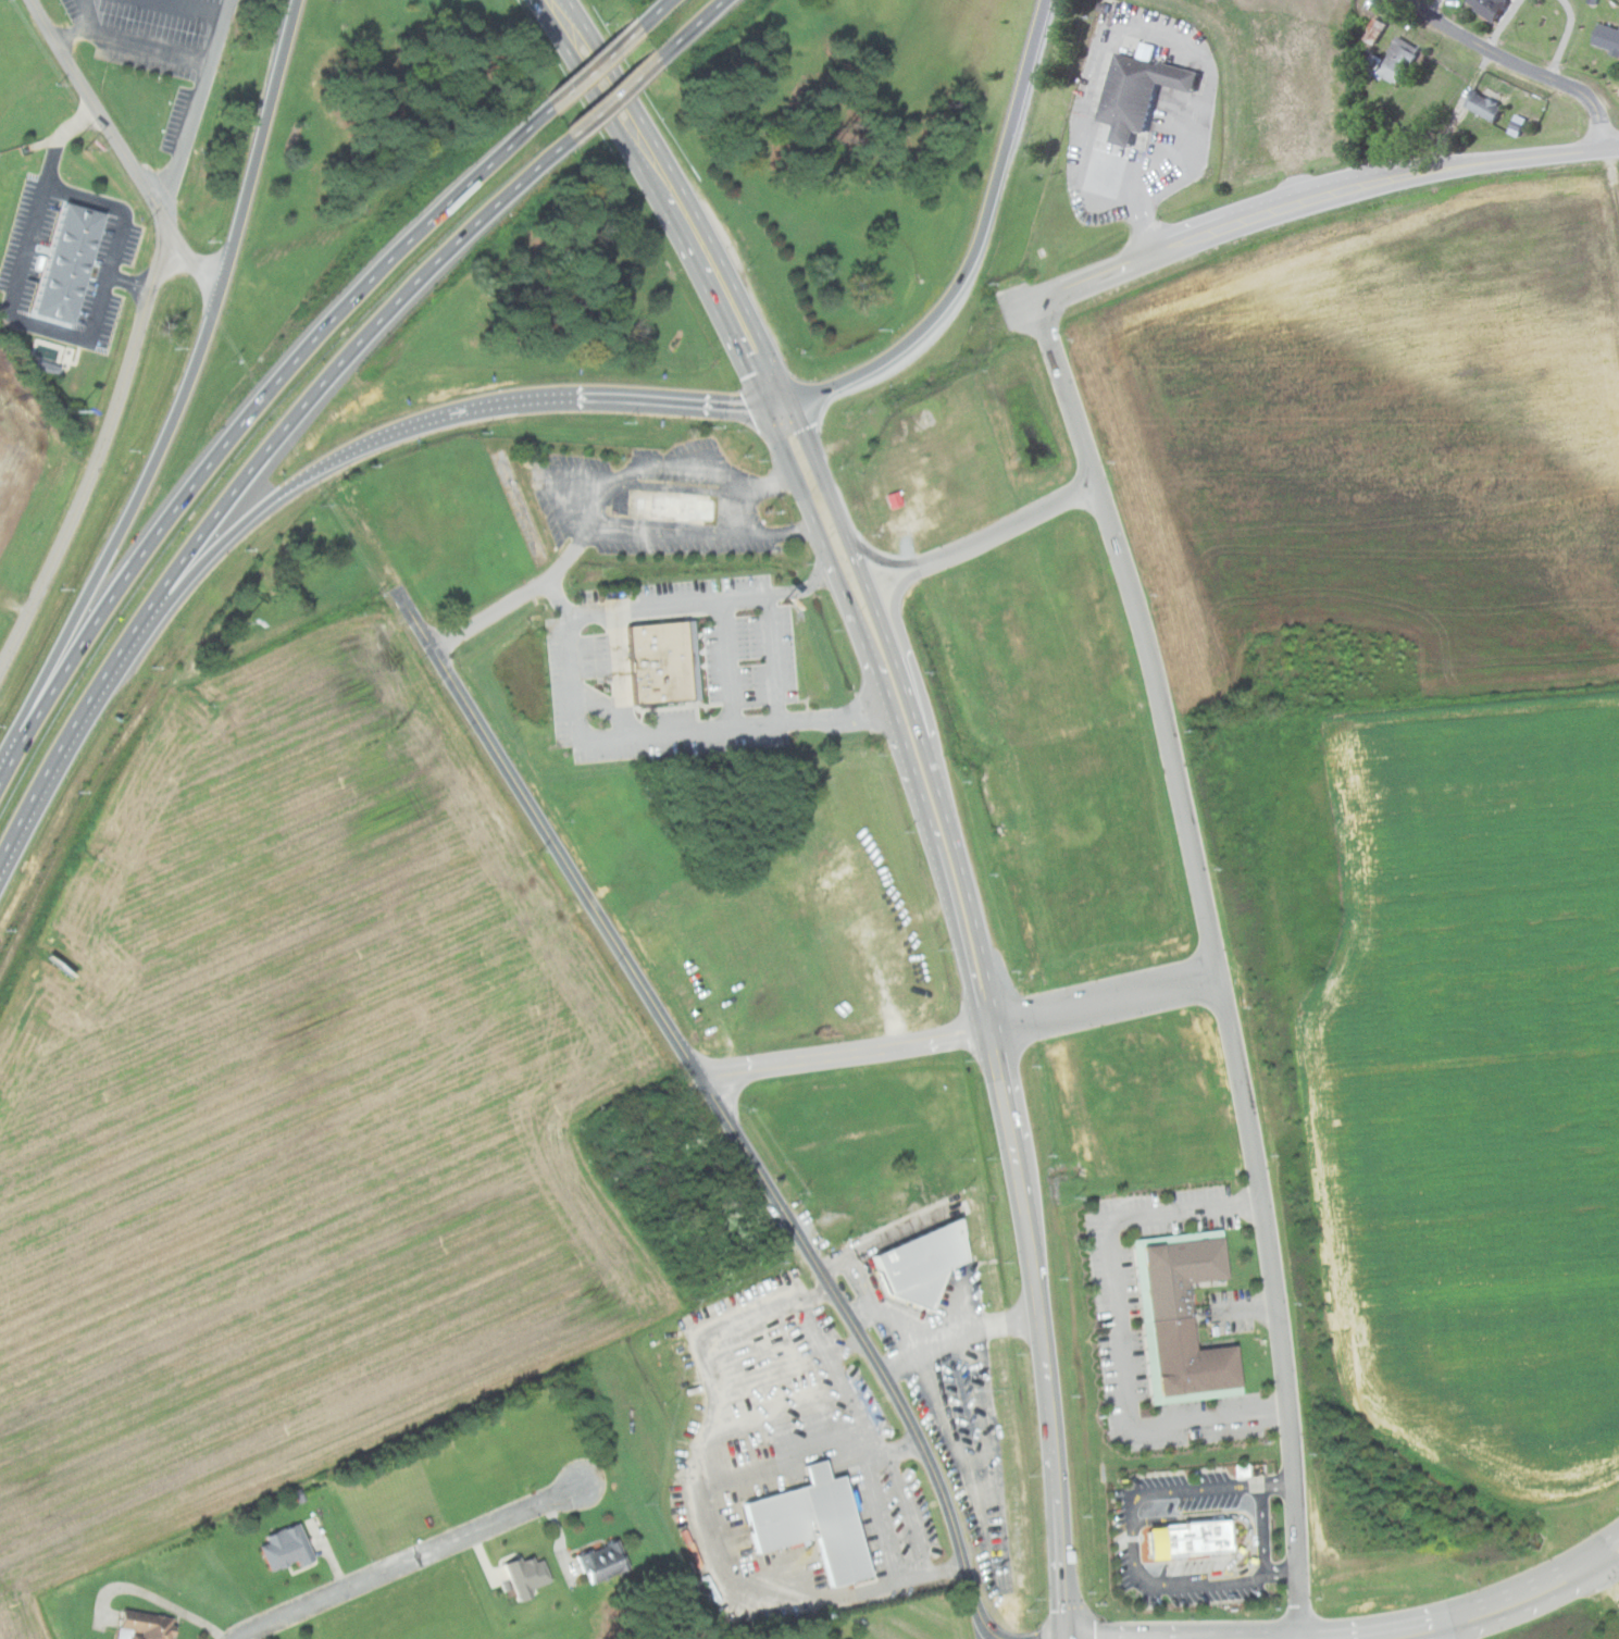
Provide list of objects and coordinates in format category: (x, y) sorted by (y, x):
road: (662, 7)
building: (1494, 8)
road: (698, 23)
parking lot: (165, 27)
road: (1155, 28)
road: (83, 30)
road: (148, 36)
building: (1610, 38)
road: (602, 52)
road: (602, 61)
building: (1399, 63)
road: (1519, 66)
building: (1143, 90)
road: (625, 91)
road: (199, 102)
building: (1490, 107)
parking lot: (183, 120)
road: (259, 146)
road: (125, 148)
road: (1610, 187)
road: (1320, 196)
road: (90, 199)
road: (661, 206)
road: (979, 239)
road: (719, 257)
building: (61, 262)
road: (319, 385)
traffic signals: (788, 399)
road: (687, 401)
traffic signals: (762, 403)
road: (251, 408)
road: (99, 458)
road: (815, 463)
road: (306, 474)
road: (794, 475)
building: (681, 507)
road: (1009, 524)
road: (122, 526)
road: (871, 554)
road: (806, 588)
road: (519, 595)
road: (731, 600)
road: (879, 617)
road: (894, 619)
road: (857, 626)
building: (665, 662)
road: (727, 665)
road: (620, 673)
road: (661, 733)
road: (4, 763)
road: (51, 769)
road: (952, 874)
road: (1213, 960)
road: (1105, 1006)
road: (846, 1053)
road: (721, 1105)
building: (925, 1263)
road: (1250, 1311)
road: (805, 1316)
building: (1183, 1316)
road: (1119, 1324)
road: (1042, 1333)
road: (842, 1388)
road: (1278, 1482)
building: (817, 1523)
road: (881, 1525)
road: (1266, 1530)
building: (1183, 1539)
road: (1133, 1542)
road: (1602, 1543)
building: (288, 1548)
road: (1605, 1560)
building: (603, 1561)
road: (412, 1562)
building: (523, 1576)
road: (1284, 1576)
road: (1605, 1584)
road: (1478, 1613)
building: (144, 1627)
road: (1450, 1630)

